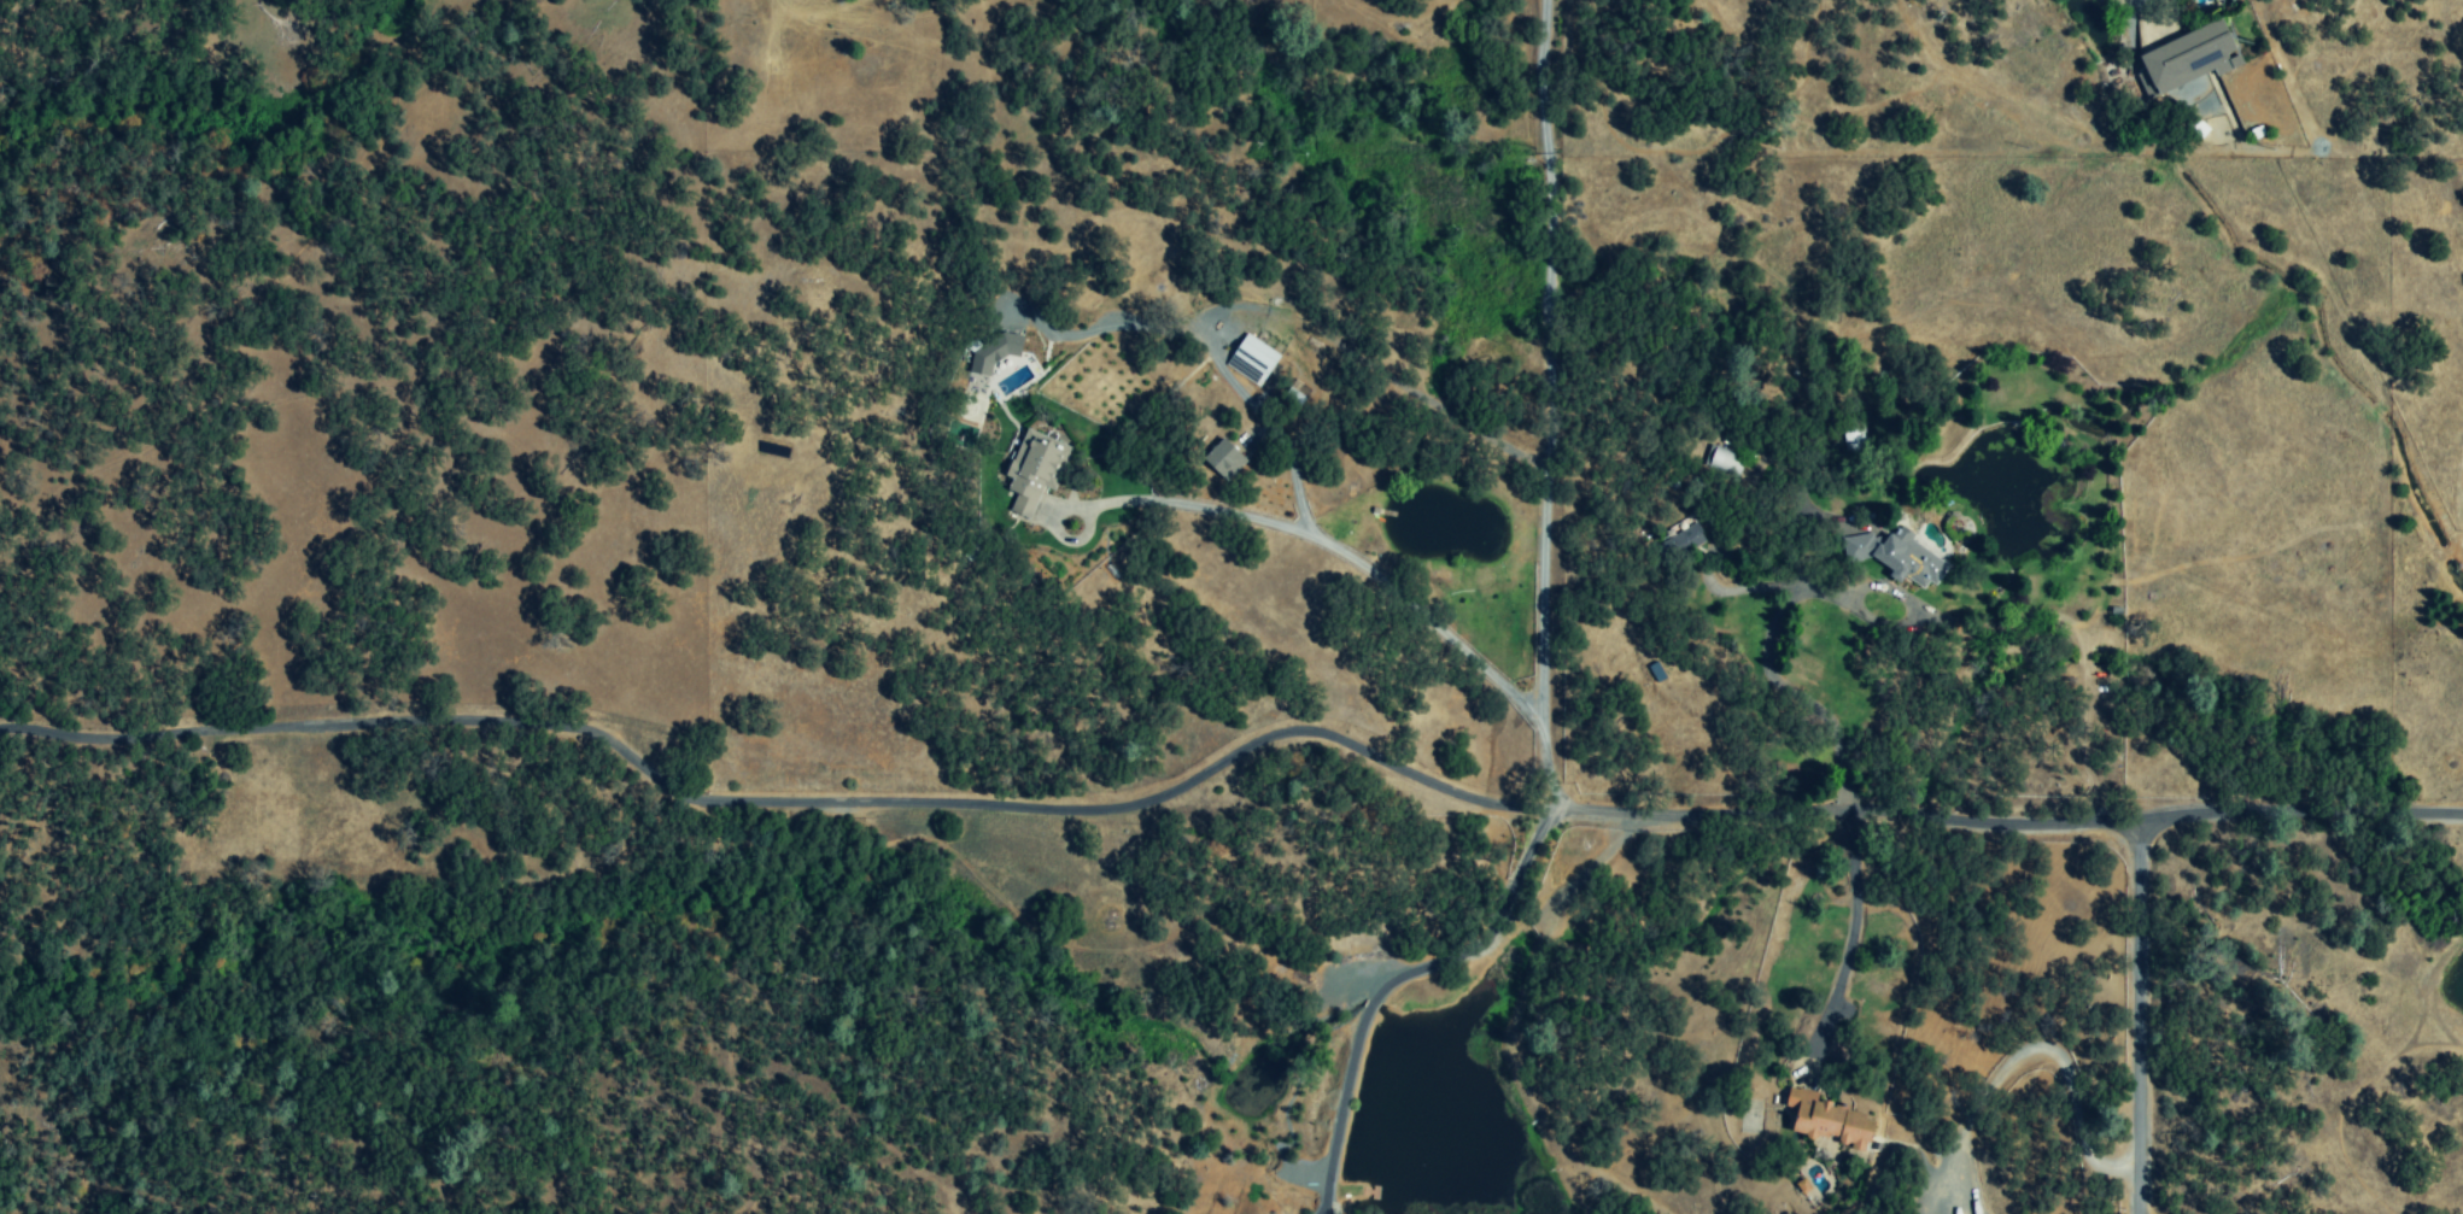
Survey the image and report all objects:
building: (2186, 59)
building: (993, 352)
building: (1251, 360)
road: (1218, 369)
road: (1545, 407)
building: (1851, 438)
building: (1223, 461)
building: (1722, 462)
building: (1032, 471)
building: (1681, 540)
road: (1339, 551)
building: (1895, 556)
road: (1768, 670)
road: (1225, 760)
road: (1851, 917)
road: (1392, 980)
road: (2139, 1016)
road: (2041, 1052)
building: (1825, 1120)

